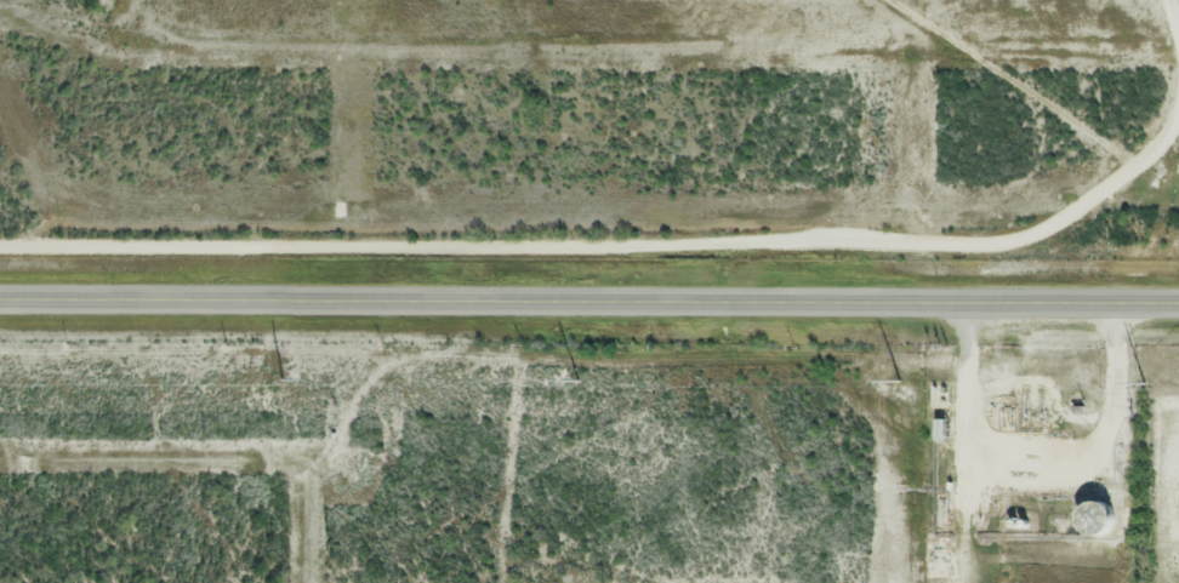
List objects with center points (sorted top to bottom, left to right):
road: (589, 299)
power tower: (579, 377)
power tower: (280, 379)
power tower: (899, 379)
power tower: (1143, 382)
building: (1095, 519)

